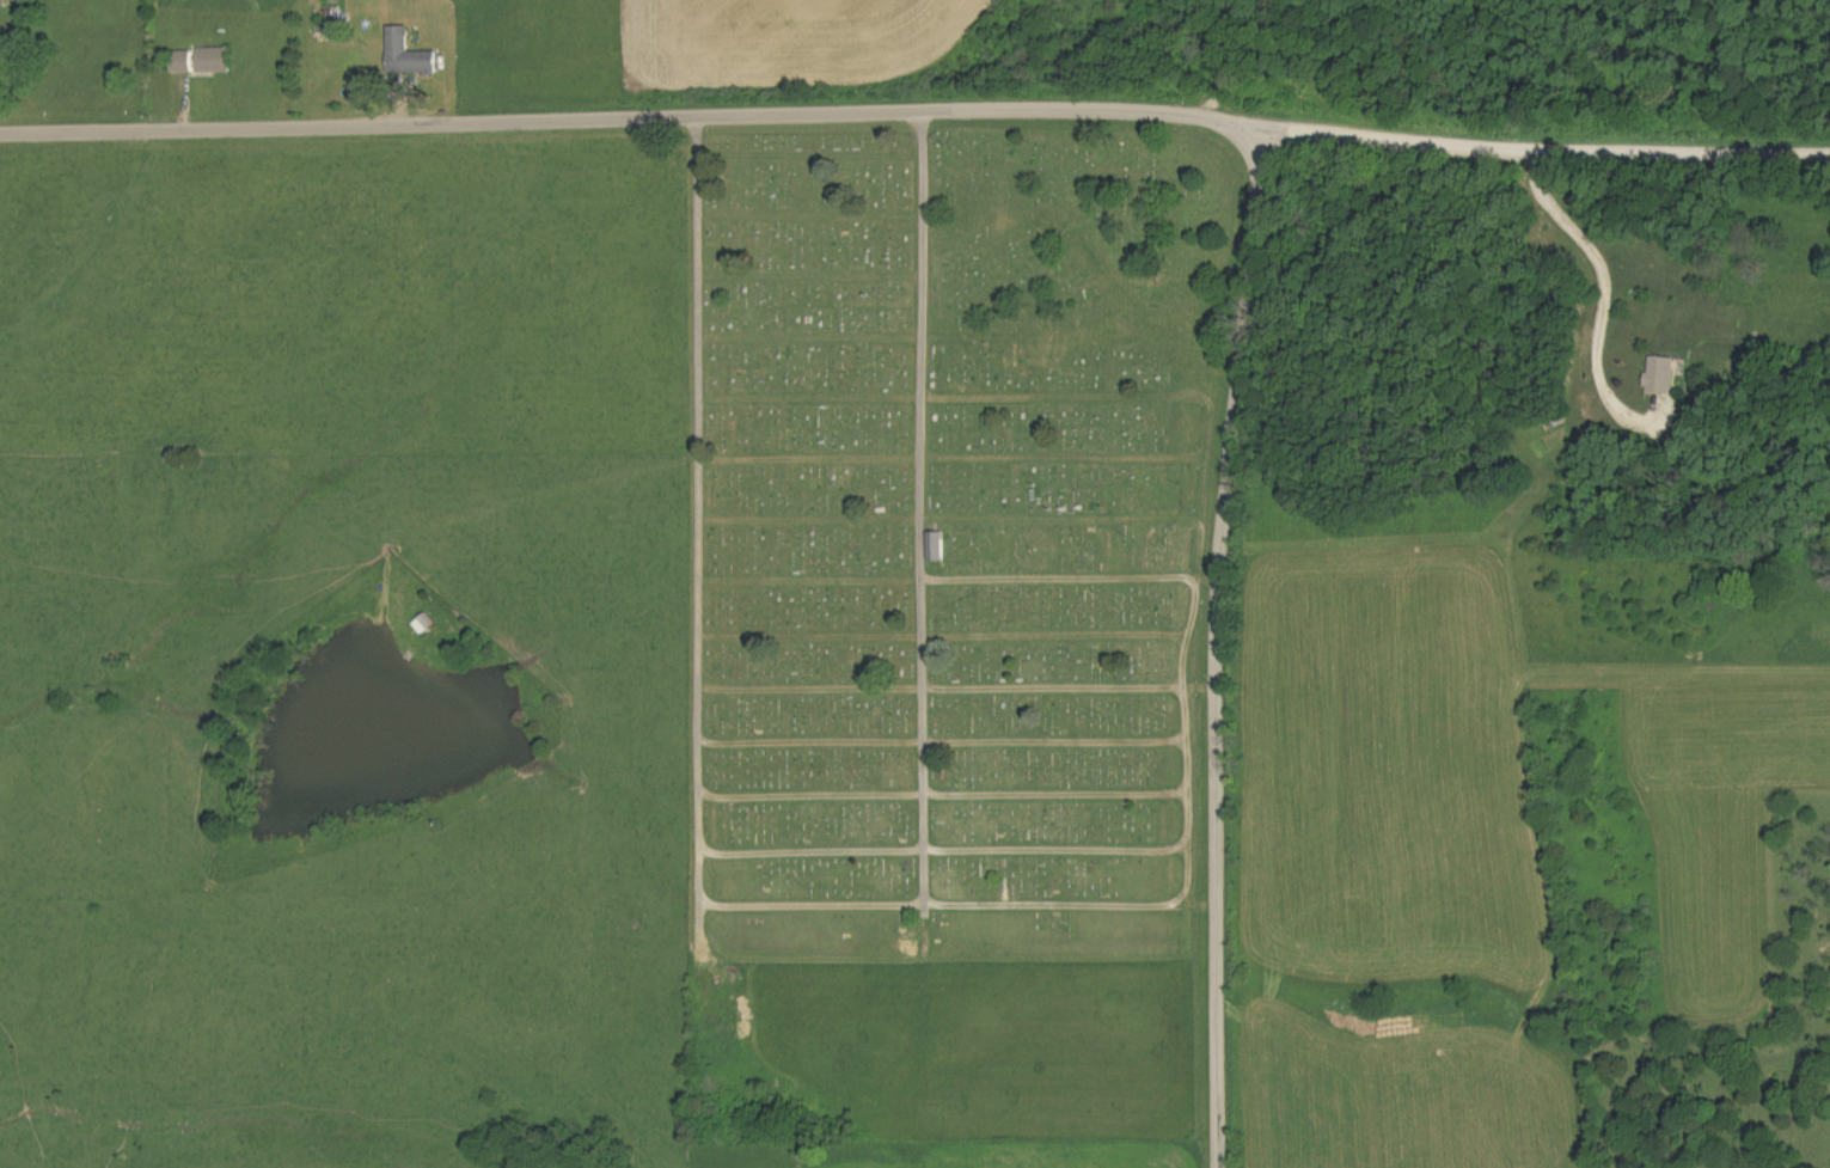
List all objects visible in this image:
building: (410, 55)
building: (202, 61)
road: (916, 112)
road: (1608, 293)
building: (1663, 377)
building: (938, 548)
park: (951, 612)
road: (1214, 648)

